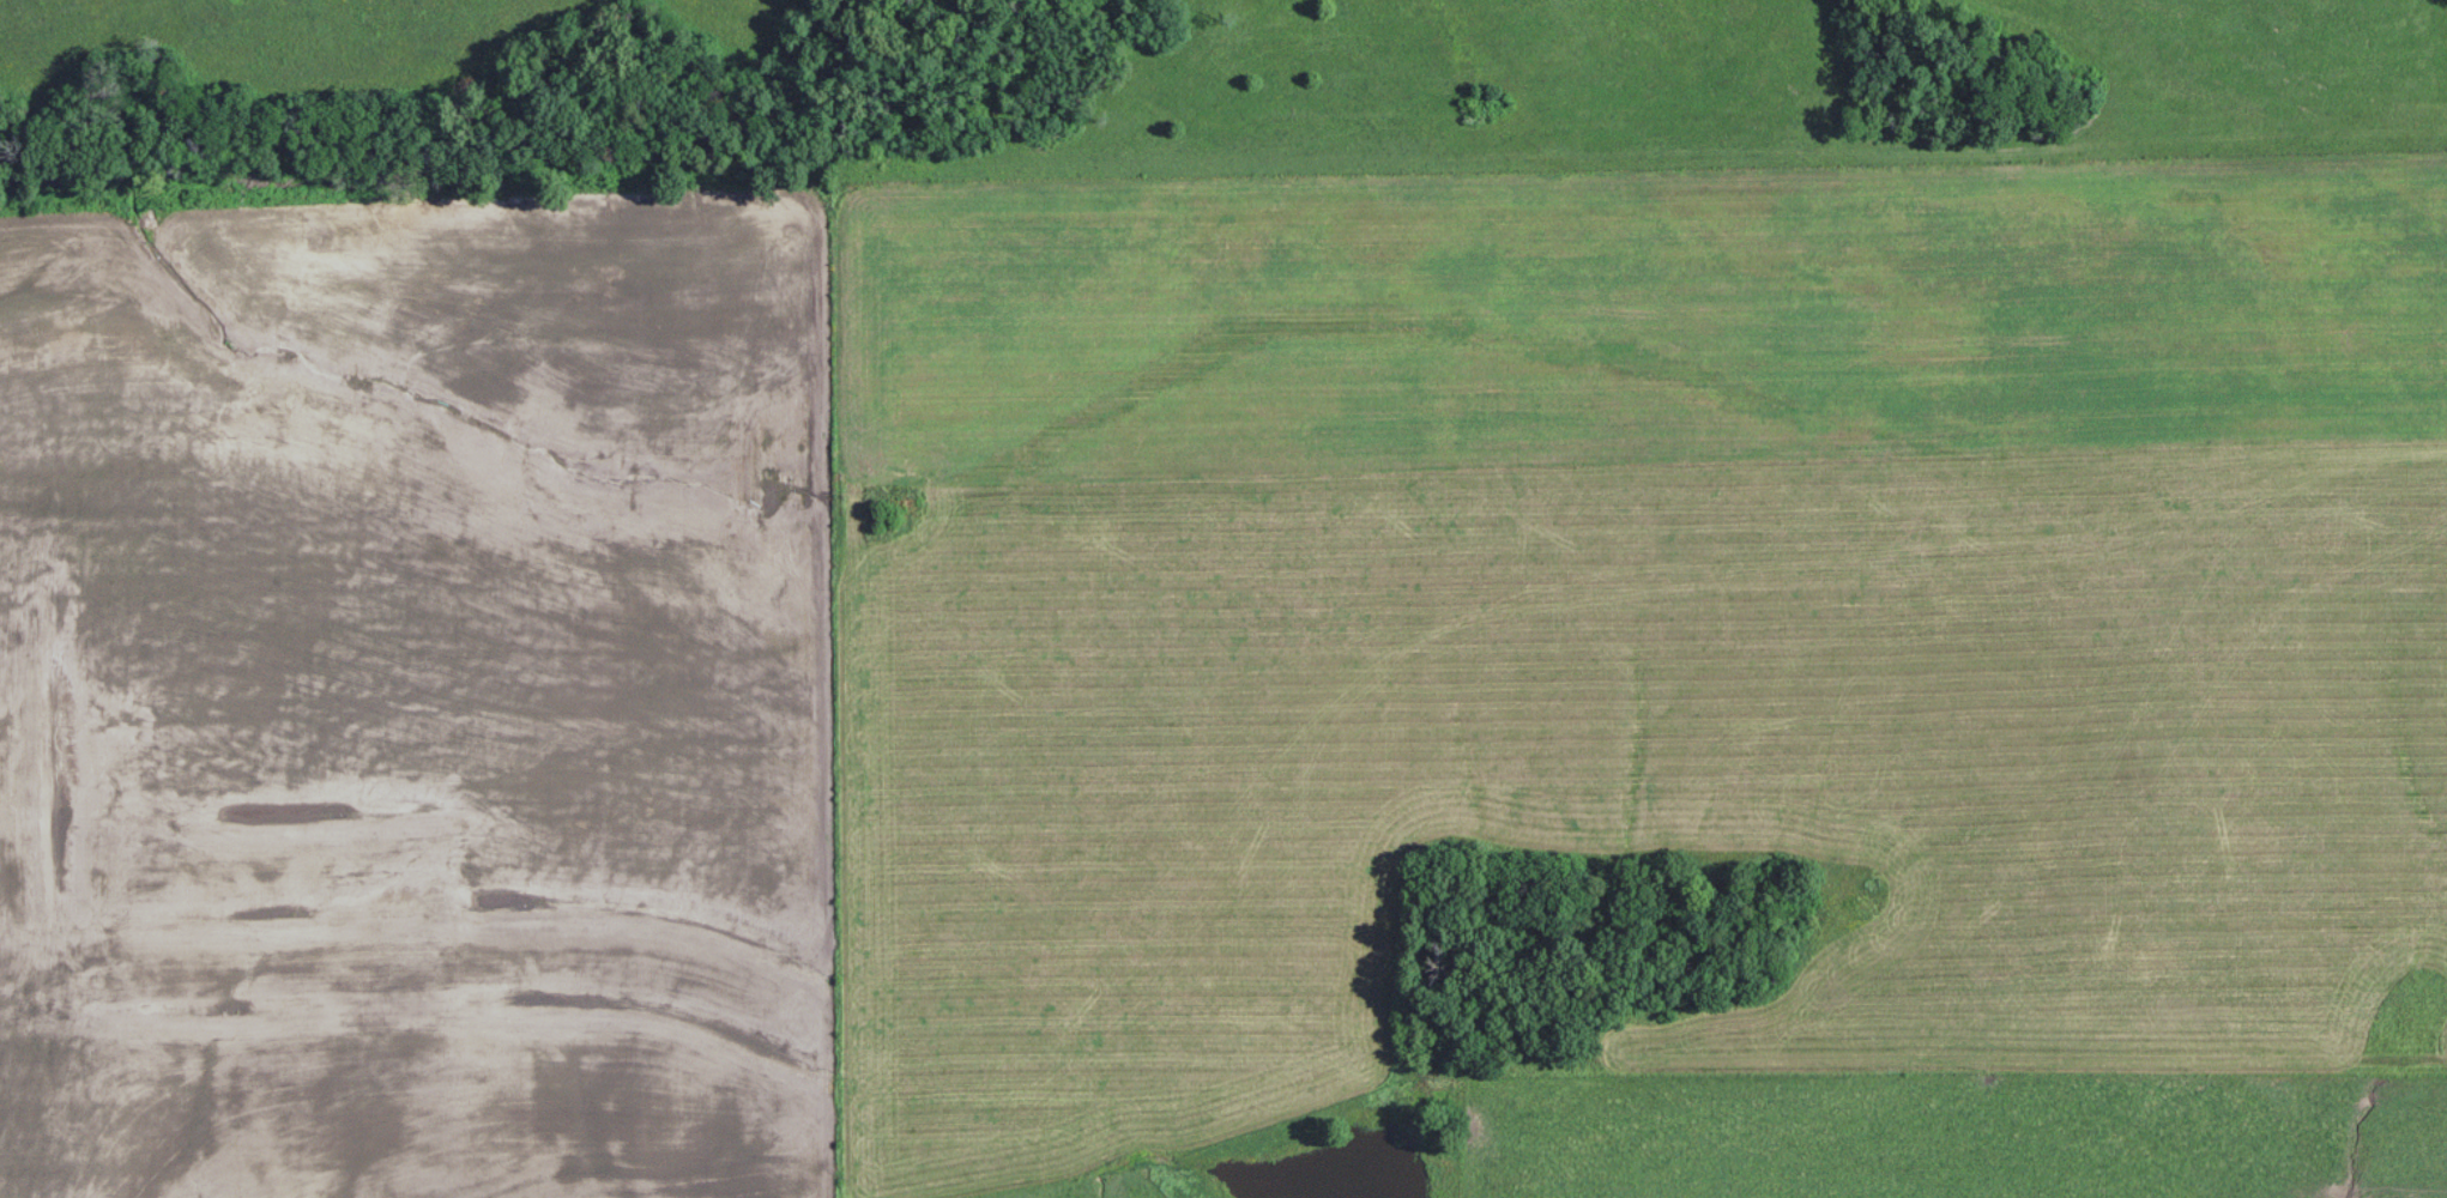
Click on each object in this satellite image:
crop: (1635, 320)
crop: (431, 643)
crop: (1620, 778)
crop: (265, 1114)

